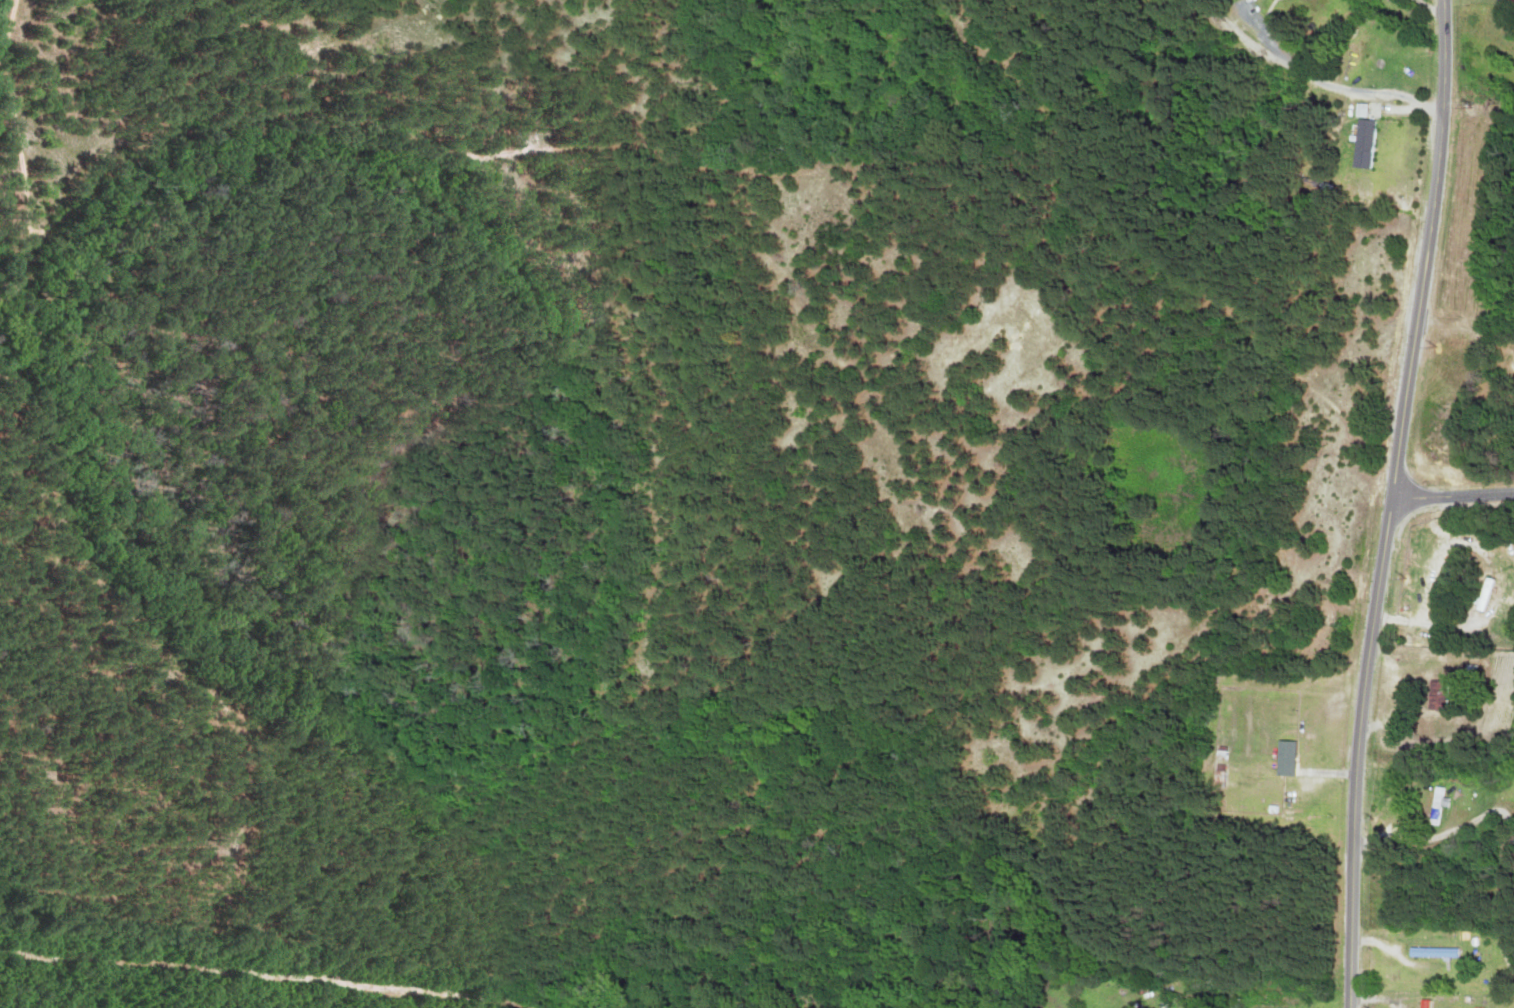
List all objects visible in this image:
building: (1363, 143)
road: (1453, 495)
road: (1391, 503)
building: (1481, 594)
building: (1435, 695)
building: (1283, 758)
building: (1434, 806)
building: (1431, 953)

